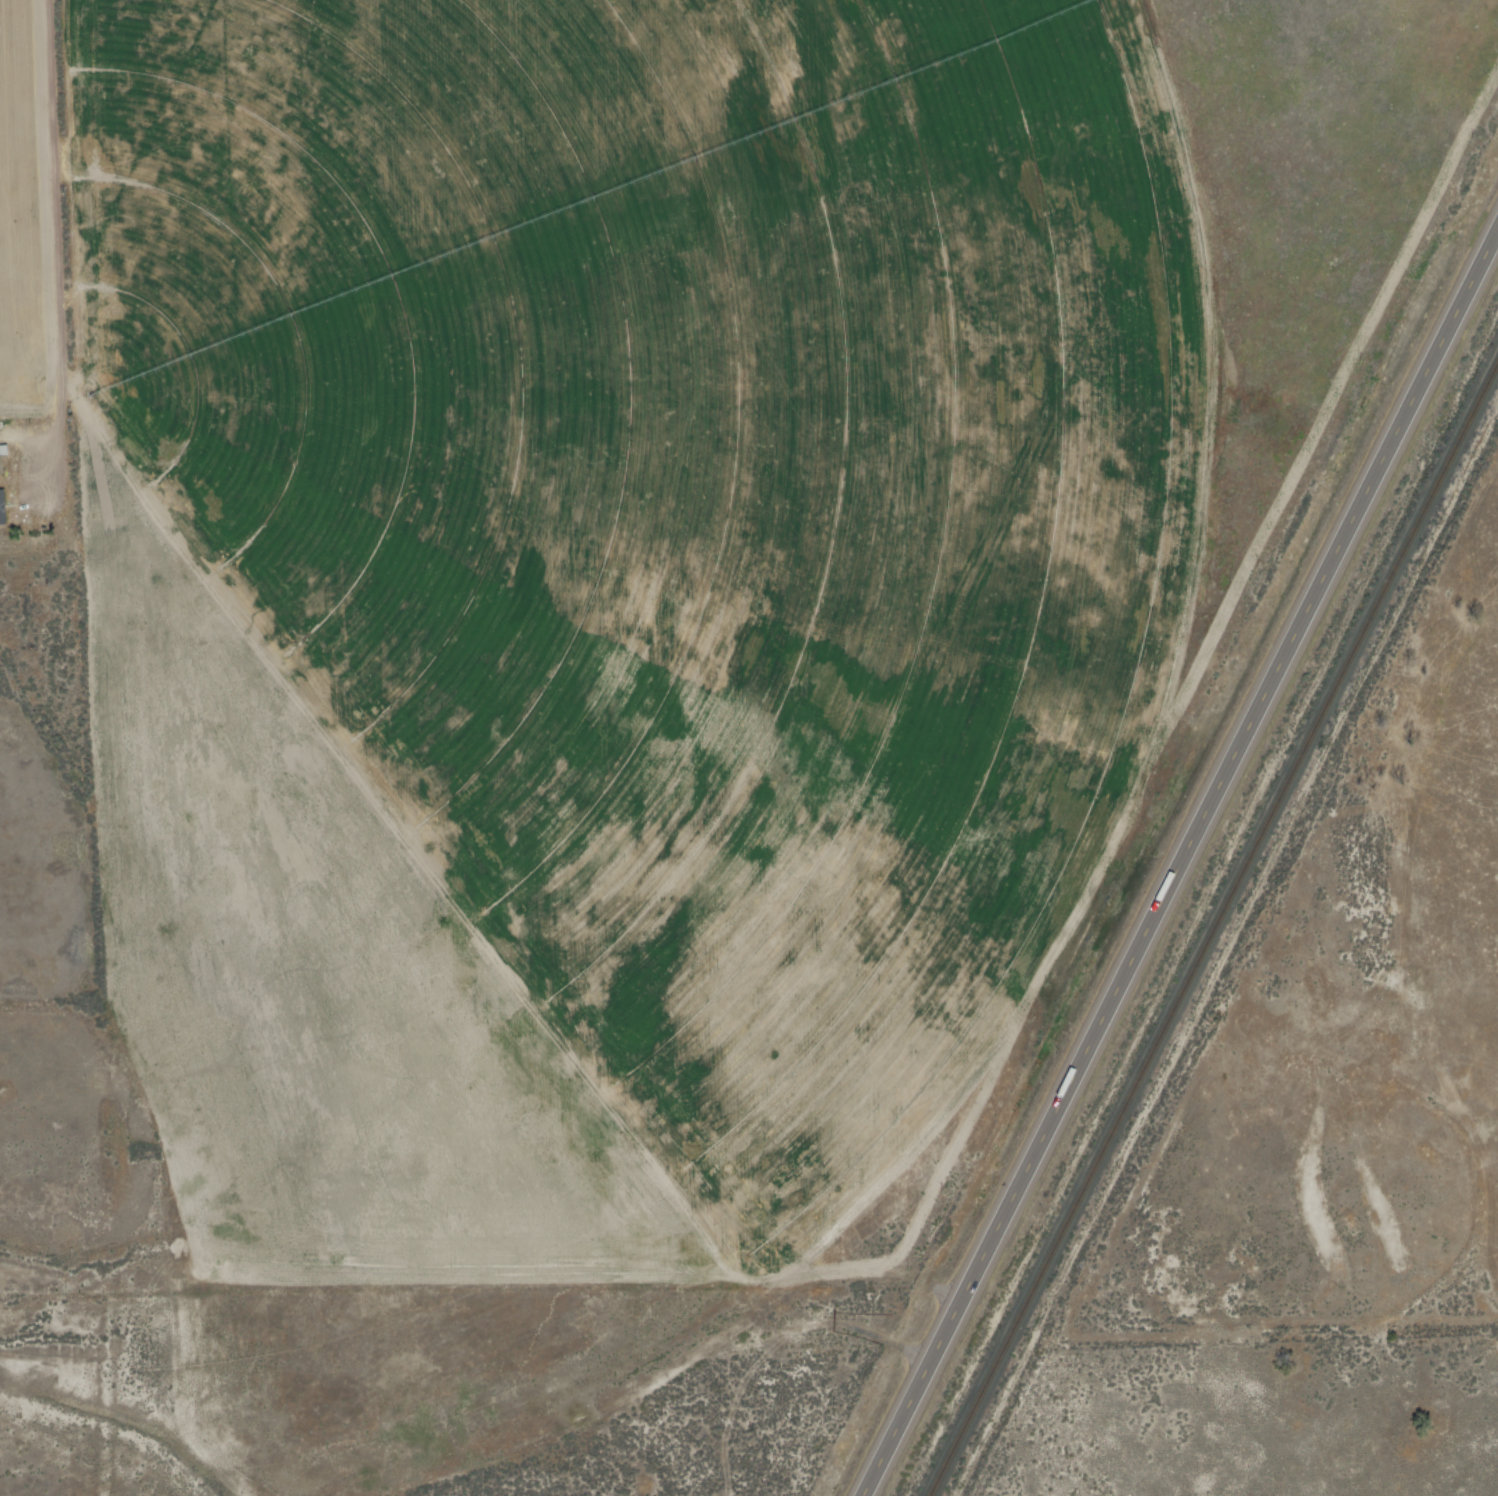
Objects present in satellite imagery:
road: (53, 255)
road: (1177, 856)
railway: (1213, 928)

